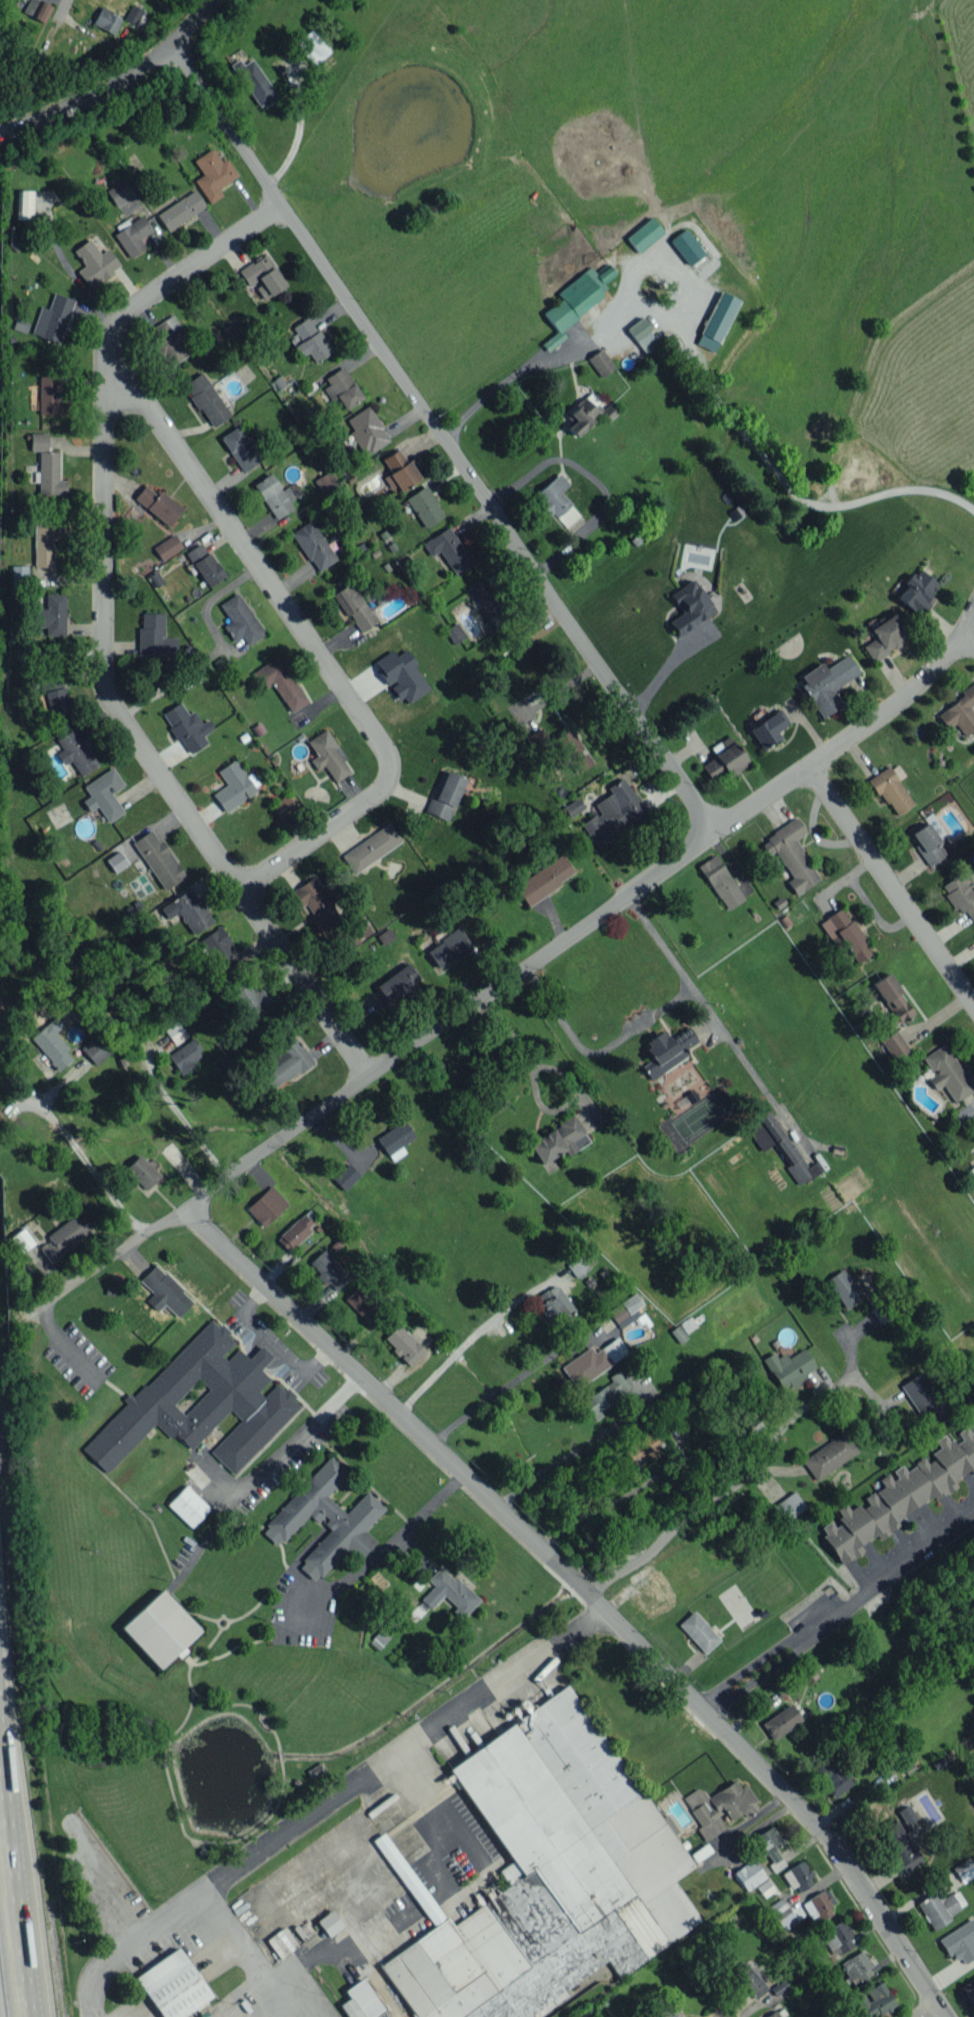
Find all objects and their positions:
building: (37, 9)
building: (133, 14)
building: (106, 20)
road: (57, 24)
building: (311, 47)
road: (123, 74)
building: (254, 82)
road: (8, 132)
building: (212, 174)
building: (120, 192)
building: (23, 204)
building: (180, 209)
building: (644, 234)
building: (132, 235)
building: (686, 246)
building: (94, 263)
building: (263, 277)
road: (638, 299)
building: (575, 301)
building: (52, 318)
building: (716, 320)
building: (642, 335)
building: (168, 339)
building: (310, 339)
road: (532, 360)
building: (600, 362)
building: (342, 387)
building: (49, 395)
building: (206, 399)
building: (583, 412)
building: (366, 430)
road: (440, 439)
building: (38, 441)
building: (240, 447)
building: (400, 470)
building: (49, 474)
road: (593, 481)
building: (325, 483)
road: (784, 487)
building: (276, 494)
building: (552, 498)
building: (158, 504)
building: (424, 506)
building: (45, 539)
building: (313, 545)
building: (167, 546)
building: (448, 549)
building: (204, 564)
building: (18, 575)
building: (916, 590)
building: (486, 599)
building: (689, 606)
building: (354, 607)
building: (52, 614)
building: (240, 620)
road: (967, 620)
building: (454, 632)
road: (105, 636)
building: (154, 636)
building: (884, 636)
road: (967, 640)
road: (309, 643)
road: (664, 667)
building: (401, 675)
building: (279, 682)
building: (826, 682)
building: (56, 699)
building: (959, 712)
building: (185, 727)
building: (766, 730)
building: (538, 739)
road: (844, 742)
building: (572, 749)
building: (74, 751)
building: (328, 755)
building: (724, 758)
building: (234, 785)
building: (890, 790)
building: (103, 793)
building: (444, 794)
building: (282, 806)
building: (573, 807)
building: (613, 813)
building: (927, 843)
building: (370, 847)
building: (791, 855)
building: (158, 858)
building: (116, 861)
building: (543, 879)
building: (720, 881)
road: (892, 887)
building: (960, 892)
building: (316, 903)
building: (188, 910)
building: (844, 933)
building: (346, 939)
building: (448, 948)
building: (220, 949)
building: (397, 982)
building: (247, 997)
building: (891, 998)
road: (641, 1023)
building: (175, 1032)
building: (894, 1044)
building: (51, 1047)
building: (94, 1049)
building: (666, 1050)
building: (185, 1055)
building: (285, 1063)
road: (370, 1073)
building: (946, 1073)
road: (182, 1117)
building: (395, 1139)
building: (558, 1140)
building: (777, 1145)
road: (90, 1168)
building: (142, 1171)
building: (345, 1176)
building: (972, 1182)
building: (266, 1205)
building: (294, 1231)
building: (63, 1237)
building: (21, 1239)
building: (578, 1265)
building: (328, 1270)
building: (843, 1288)
building: (164, 1291)
building: (360, 1302)
building: (554, 1304)
building: (628, 1312)
road: (475, 1333)
building: (678, 1333)
road: (271, 1343)
building: (402, 1344)
building: (593, 1361)
building: (788, 1367)
road: (507, 1380)
building: (607, 1392)
building: (923, 1397)
building: (200, 1402)
road: (295, 1439)
building: (643, 1447)
road: (579, 1448)
building: (829, 1455)
road: (730, 1490)
road: (619, 1494)
building: (901, 1494)
building: (187, 1505)
building: (788, 1505)
building: (350, 1517)
road: (381, 1550)
building: (448, 1592)
road: (587, 1594)
road: (839, 1609)
building: (159, 1629)
building: (698, 1631)
building: (781, 1721)
road: (2, 1748)
building: (315, 1769)
building: (832, 1776)
road: (351, 1781)
road: (438, 1804)
building: (718, 1806)
building: (906, 1814)
building: (899, 1845)
building: (769, 1846)
road: (17, 1865)
building: (964, 1869)
building: (749, 1874)
building: (546, 1875)
building: (797, 1876)
building: (817, 1906)
building: (940, 1906)
building: (782, 1913)
building: (329, 1923)
building: (837, 1937)
building: (960, 1941)
building: (856, 1967)
building: (748, 1980)
road: (87, 1984)
building: (172, 1985)
building: (966, 1991)
building: (360, 2000)
building: (873, 2001)
road: (924, 2010)
building: (772, 2014)
building: (670, 2015)

